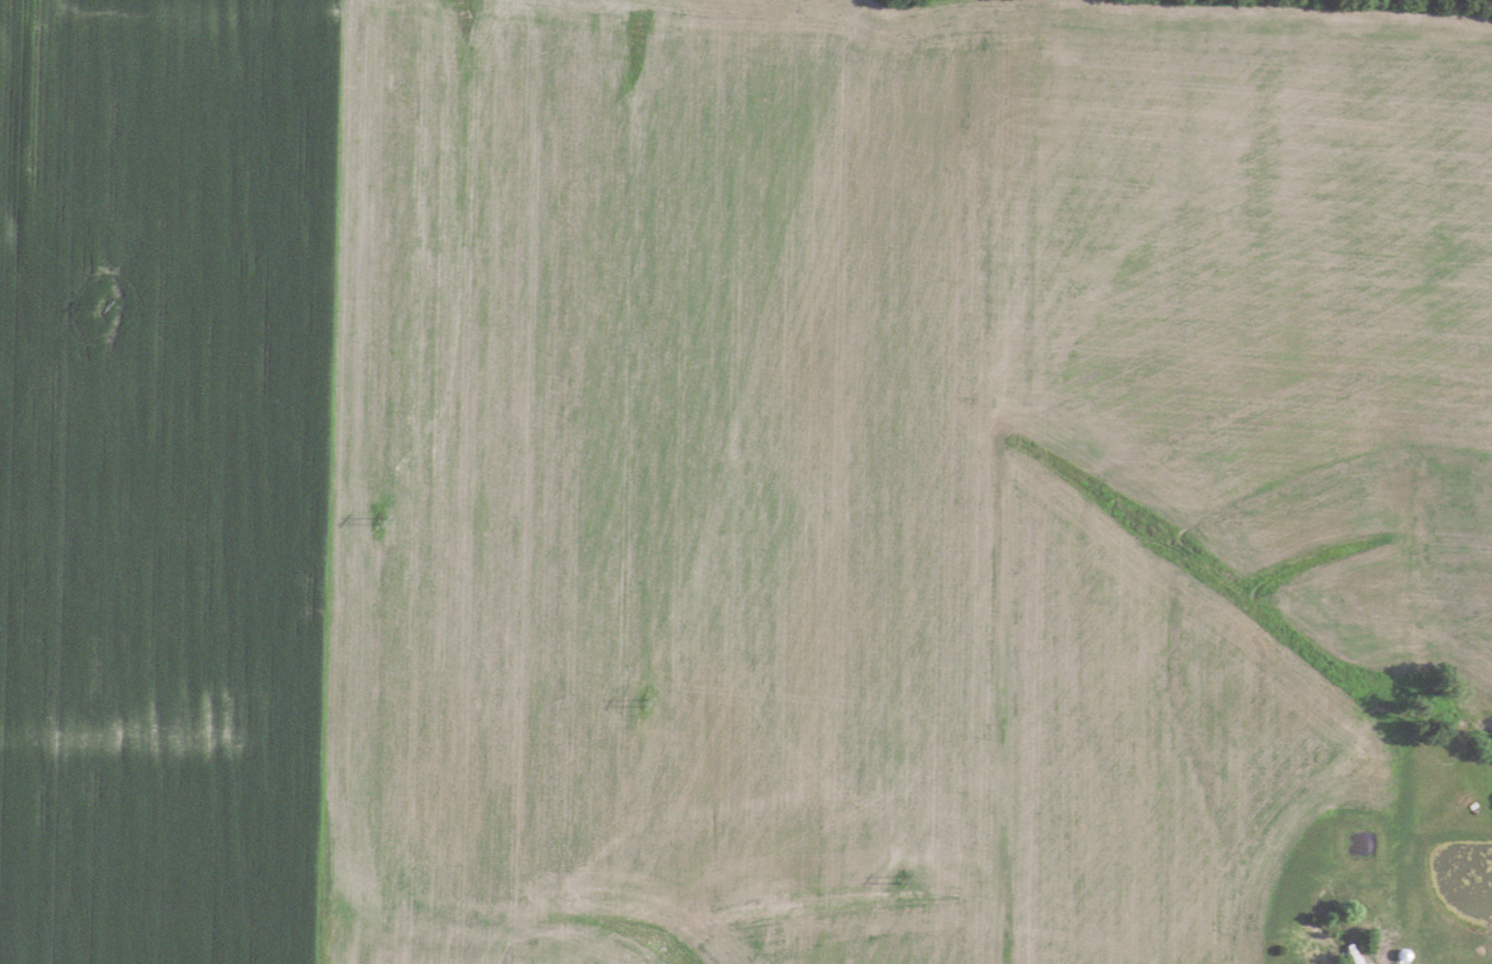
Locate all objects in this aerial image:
building: (1310, 944)

